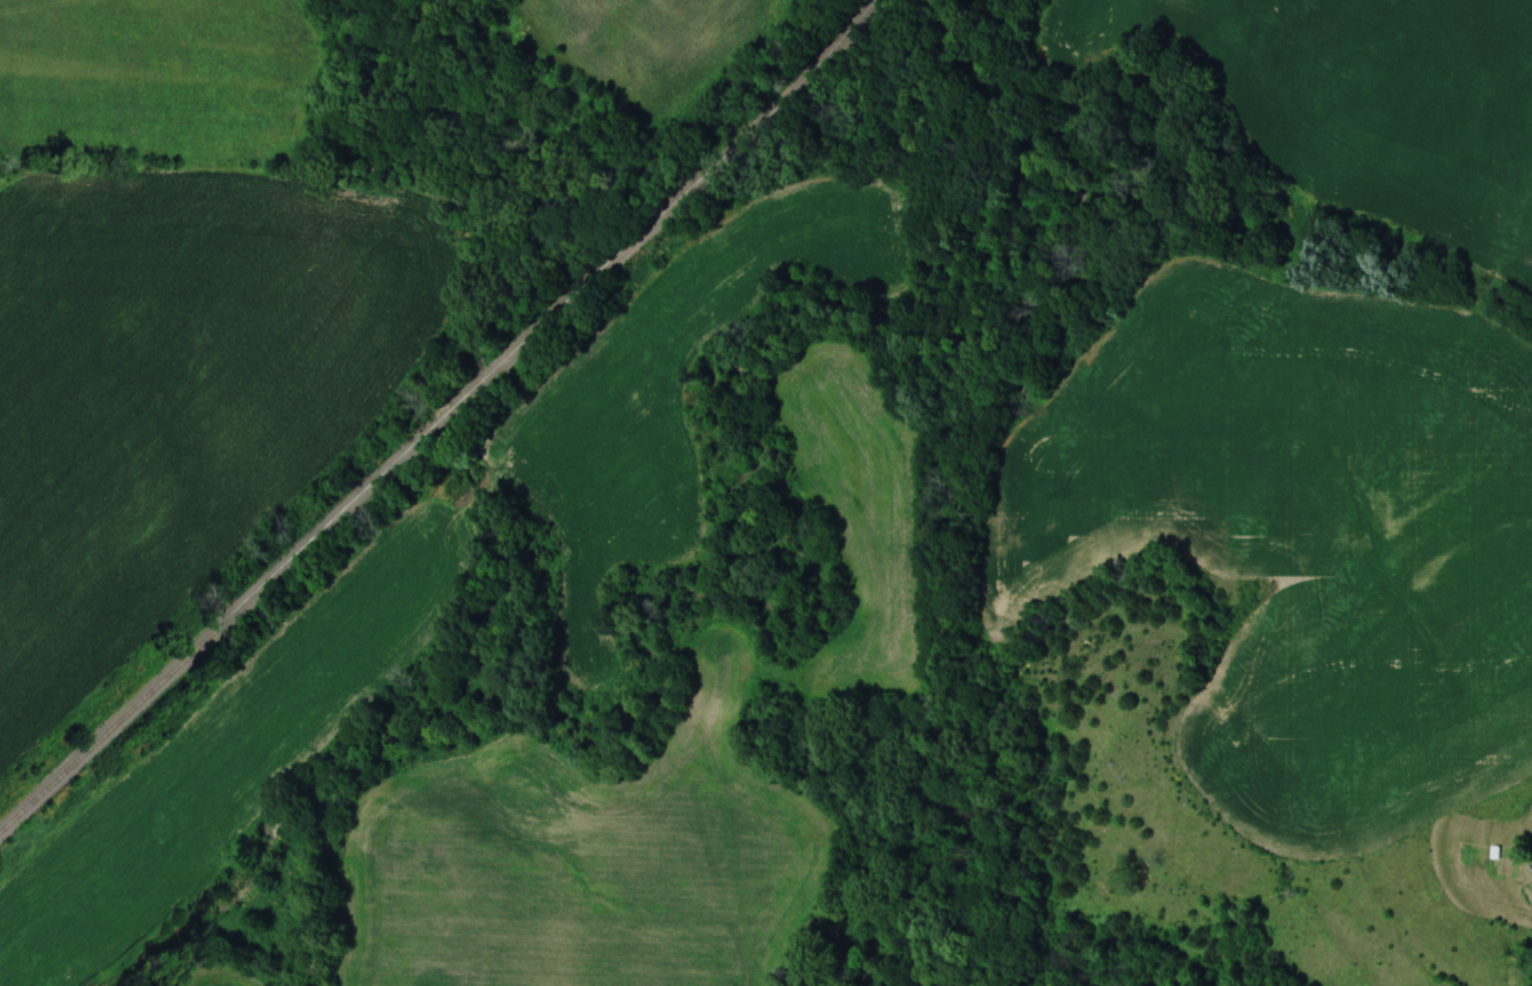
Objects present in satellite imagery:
crop: (1365, 105)
railway: (445, 423)
crop: (1300, 540)
building: (1473, 855)

